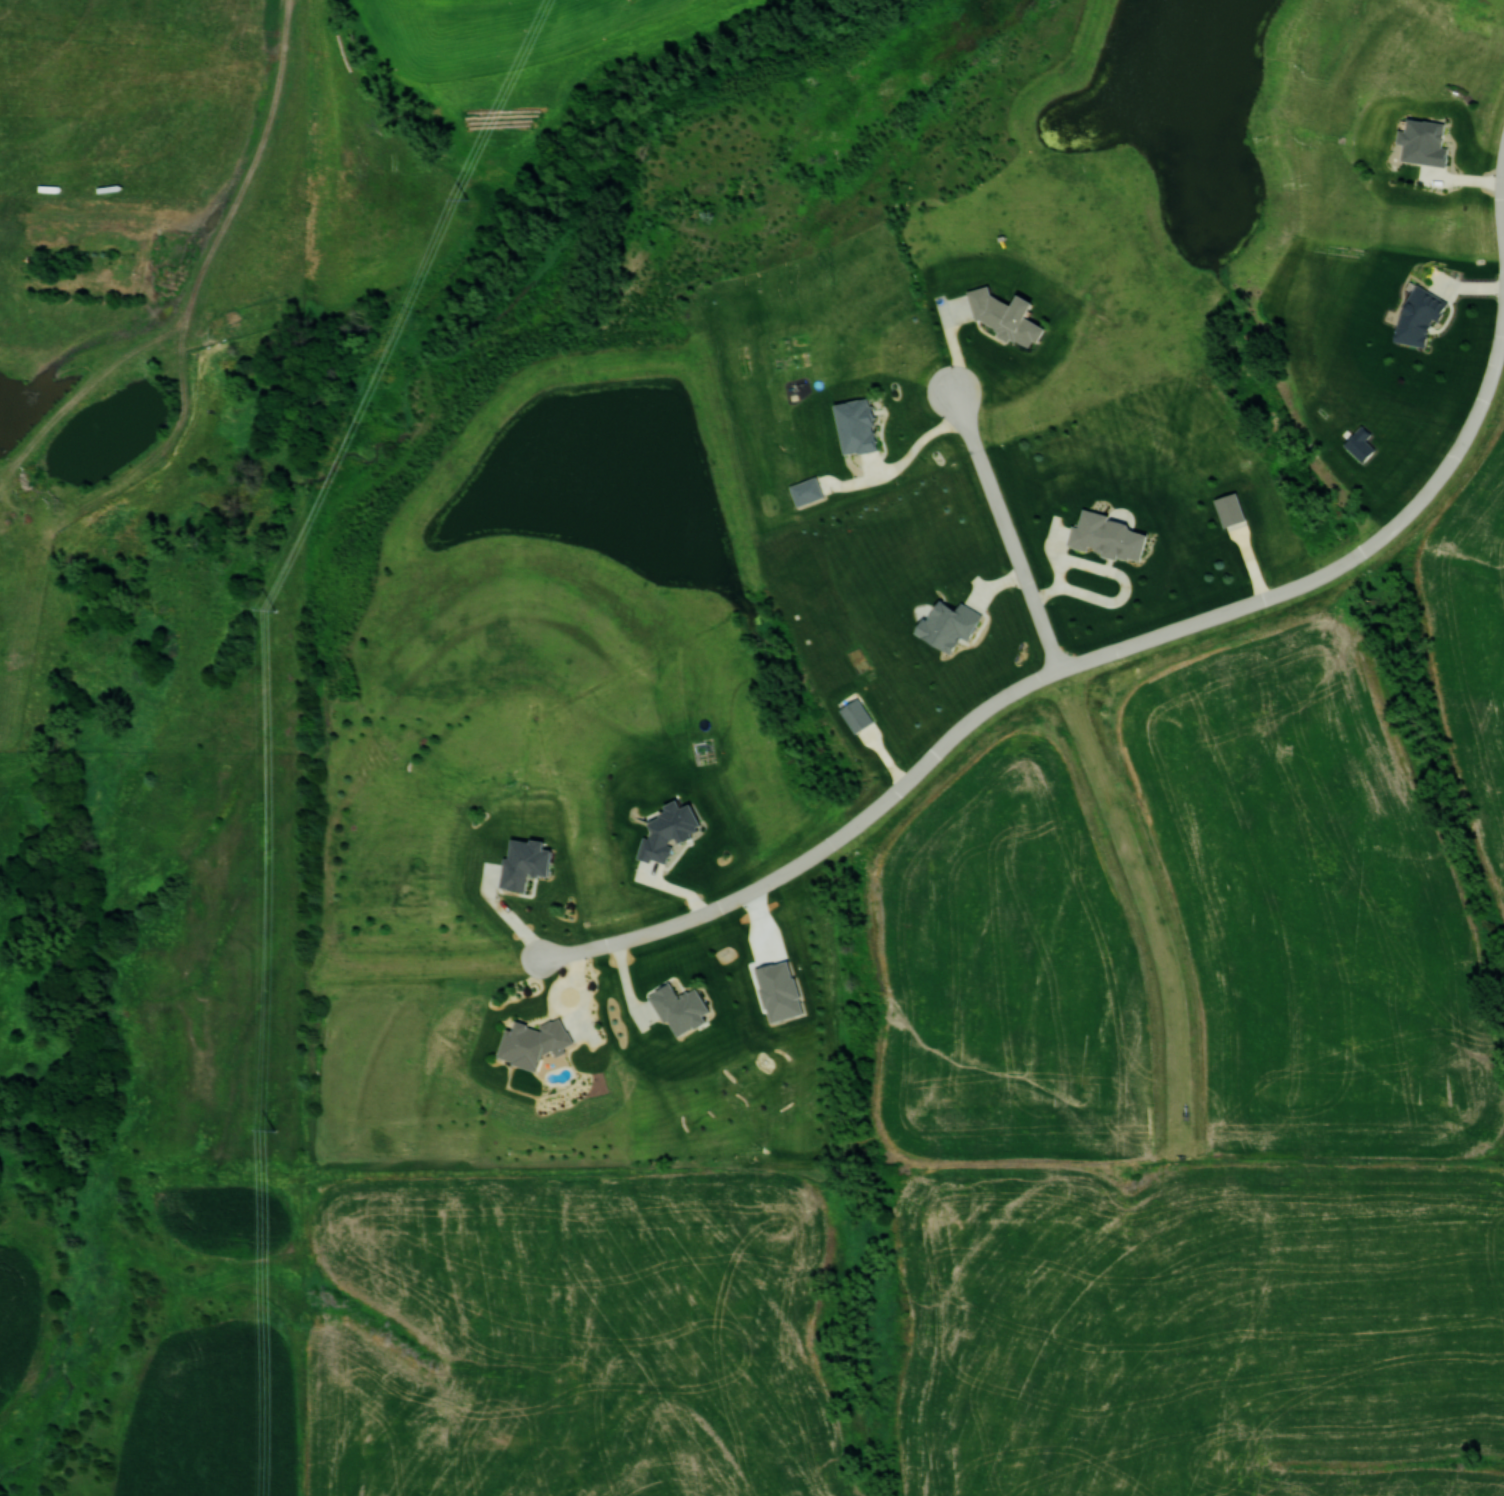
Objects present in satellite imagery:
power tower: (465, 197)
road: (1501, 200)
park: (541, 355)
road: (1006, 530)
power tower: (273, 609)
road: (1217, 615)
road: (698, 913)
power tower: (274, 1130)

